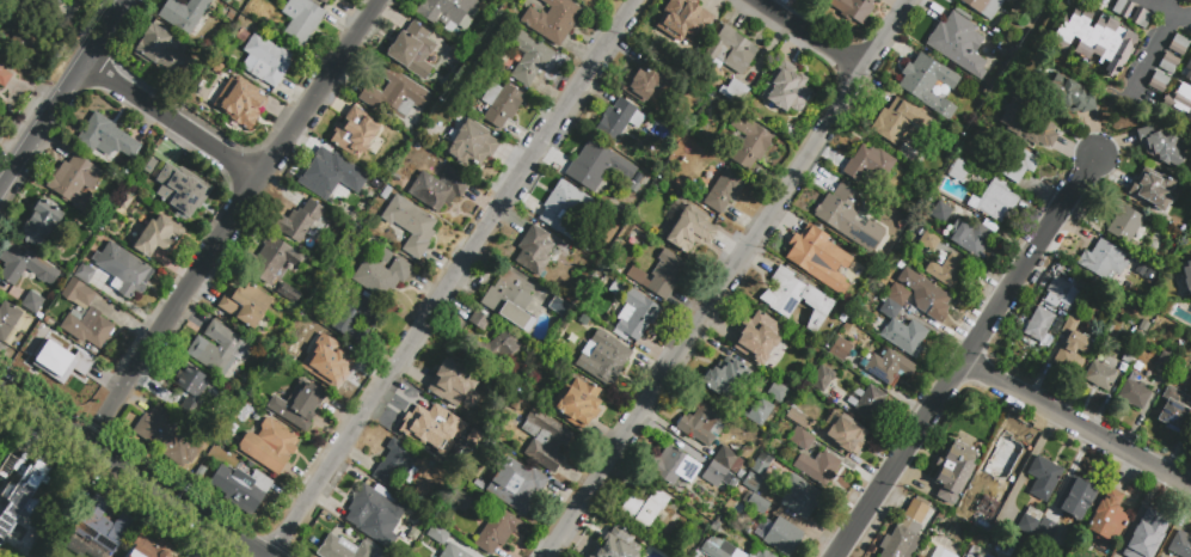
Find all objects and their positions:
building: (324, 1)
building: (48, 5)
building: (983, 7)
building: (1123, 7)
building: (853, 10)
road: (1155, 11)
building: (447, 12)
building: (186, 16)
building: (1141, 18)
building: (682, 19)
road: (1183, 20)
building: (554, 22)
building: (302, 23)
building: (20, 32)
road: (810, 35)
building: (1094, 38)
building: (958, 44)
building: (1178, 45)
building: (158, 49)
building: (731, 50)
building: (413, 53)
road: (1154, 55)
building: (530, 60)
building: (1167, 65)
building: (270, 67)
building: (1186, 71)
building: (5, 78)
building: (647, 79)
building: (1158, 81)
building: (928, 82)
building: (786, 88)
building: (732, 90)
building: (1062, 96)
road: (63, 97)
building: (398, 99)
building: (237, 102)
building: (1179, 102)
building: (503, 106)
building: (618, 121)
building: (897, 121)
road: (178, 122)
building: (1026, 124)
building: (355, 135)
building: (106, 141)
building: (750, 143)
building: (1161, 146)
building: (472, 149)
building: (868, 163)
building: (1015, 163)
building: (596, 165)
building: (958, 170)
building: (637, 176)
building: (332, 178)
building: (657, 185)
building: (825, 185)
building: (73, 186)
building: (179, 186)
building: (1153, 189)
building: (724, 190)
building: (440, 191)
building: (614, 202)
building: (972, 202)
building: (996, 202)
building: (563, 207)
building: (940, 212)
building: (848, 218)
building: (1124, 222)
building: (39, 224)
building: (300, 224)
road: (241, 225)
building: (902, 225)
building: (993, 227)
building: (412, 228)
building: (692, 234)
building: (970, 238)
building: (159, 239)
building: (595, 249)
building: (535, 253)
building: (818, 258)
building: (939, 259)
building: (1103, 259)
building: (272, 262)
building: (901, 265)
building: (768, 267)
building: (26, 269)
building: (124, 270)
building: (661, 274)
building: (86, 276)
building: (1187, 276)
road: (453, 277)
road: (733, 277)
building: (382, 278)
building: (614, 288)
building: (1060, 293)
building: (289, 294)
building: (898, 294)
building: (926, 294)
building: (797, 299)
building: (511, 302)
building: (245, 304)
building: (33, 305)
building: (559, 308)
building: (636, 316)
building: (86, 319)
building: (360, 320)
building: (8, 323)
building: (481, 323)
building: (847, 323)
building: (1038, 324)
building: (902, 331)
building: (760, 339)
building: (1072, 347)
building: (840, 348)
building: (492, 350)
building: (221, 353)
building: (1129, 355)
road: (964, 356)
building: (603, 357)
building: (1165, 361)
building: (56, 362)
building: (329, 365)
building: (886, 367)
building: (1099, 377)
building: (822, 378)
building: (725, 380)
building: (453, 381)
building: (191, 391)
building: (776, 391)
building: (1134, 394)
building: (866, 400)
building: (577, 403)
building: (300, 408)
building: (757, 410)
building: (1174, 411)
building: (798, 418)
road: (1076, 421)
building: (702, 422)
building: (1020, 427)
building: (429, 434)
building: (846, 434)
building: (165, 439)
building: (477, 439)
building: (800, 439)
building: (546, 442)
building: (271, 446)
building: (397, 466)
building: (673, 466)
building: (722, 466)
building: (817, 467)
road: (128, 471)
building: (757, 471)
building: (953, 471)
building: (741, 475)
building: (1043, 478)
building: (517, 488)
building: (243, 491)
building: (800, 497)
building: (1076, 498)
building: (27, 501)
building: (757, 503)
building: (1019, 503)
building: (644, 507)
building: (951, 509)
building: (377, 513)
building: (941, 514)
building: (1107, 518)
building: (1029, 521)
building: (713, 524)
building: (1048, 526)
building: (103, 528)
building: (905, 531)
building: (1148, 532)
building: (498, 534)
building: (779, 535)
building: (440, 537)
building: (616, 544)
building: (1180, 545)
building: (149, 549)
building: (398, 549)
building: (720, 549)
building: (345, 550)
building: (1007, 551)
building: (941, 552)
building: (453, 553)
building: (765, 555)
building: (919, 556)
building: (963, 556)

